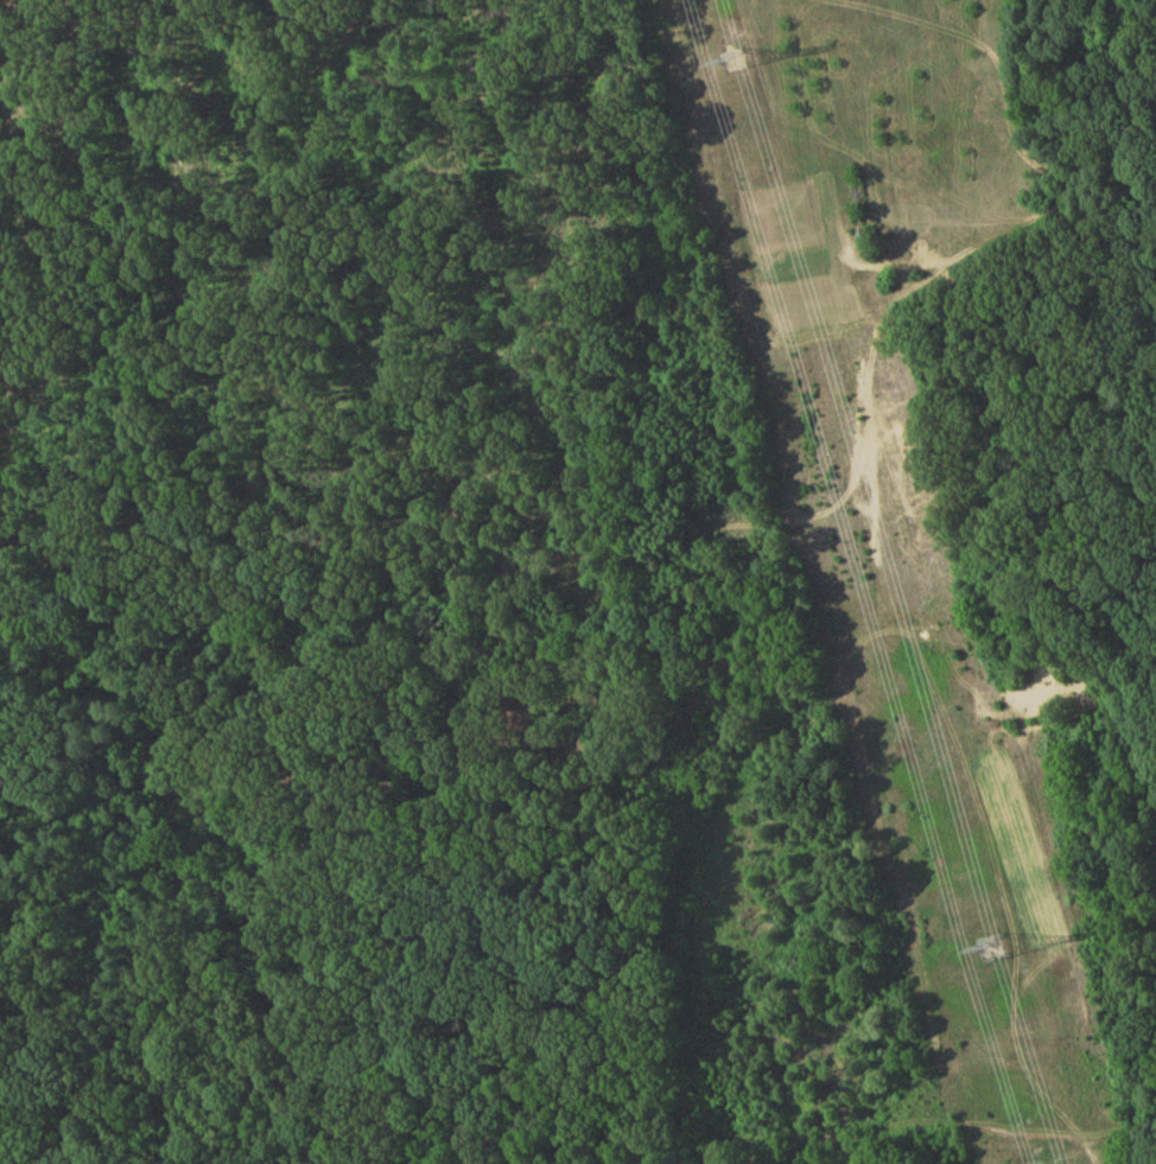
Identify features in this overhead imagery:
power tower: (731, 64)
power tower: (993, 950)

